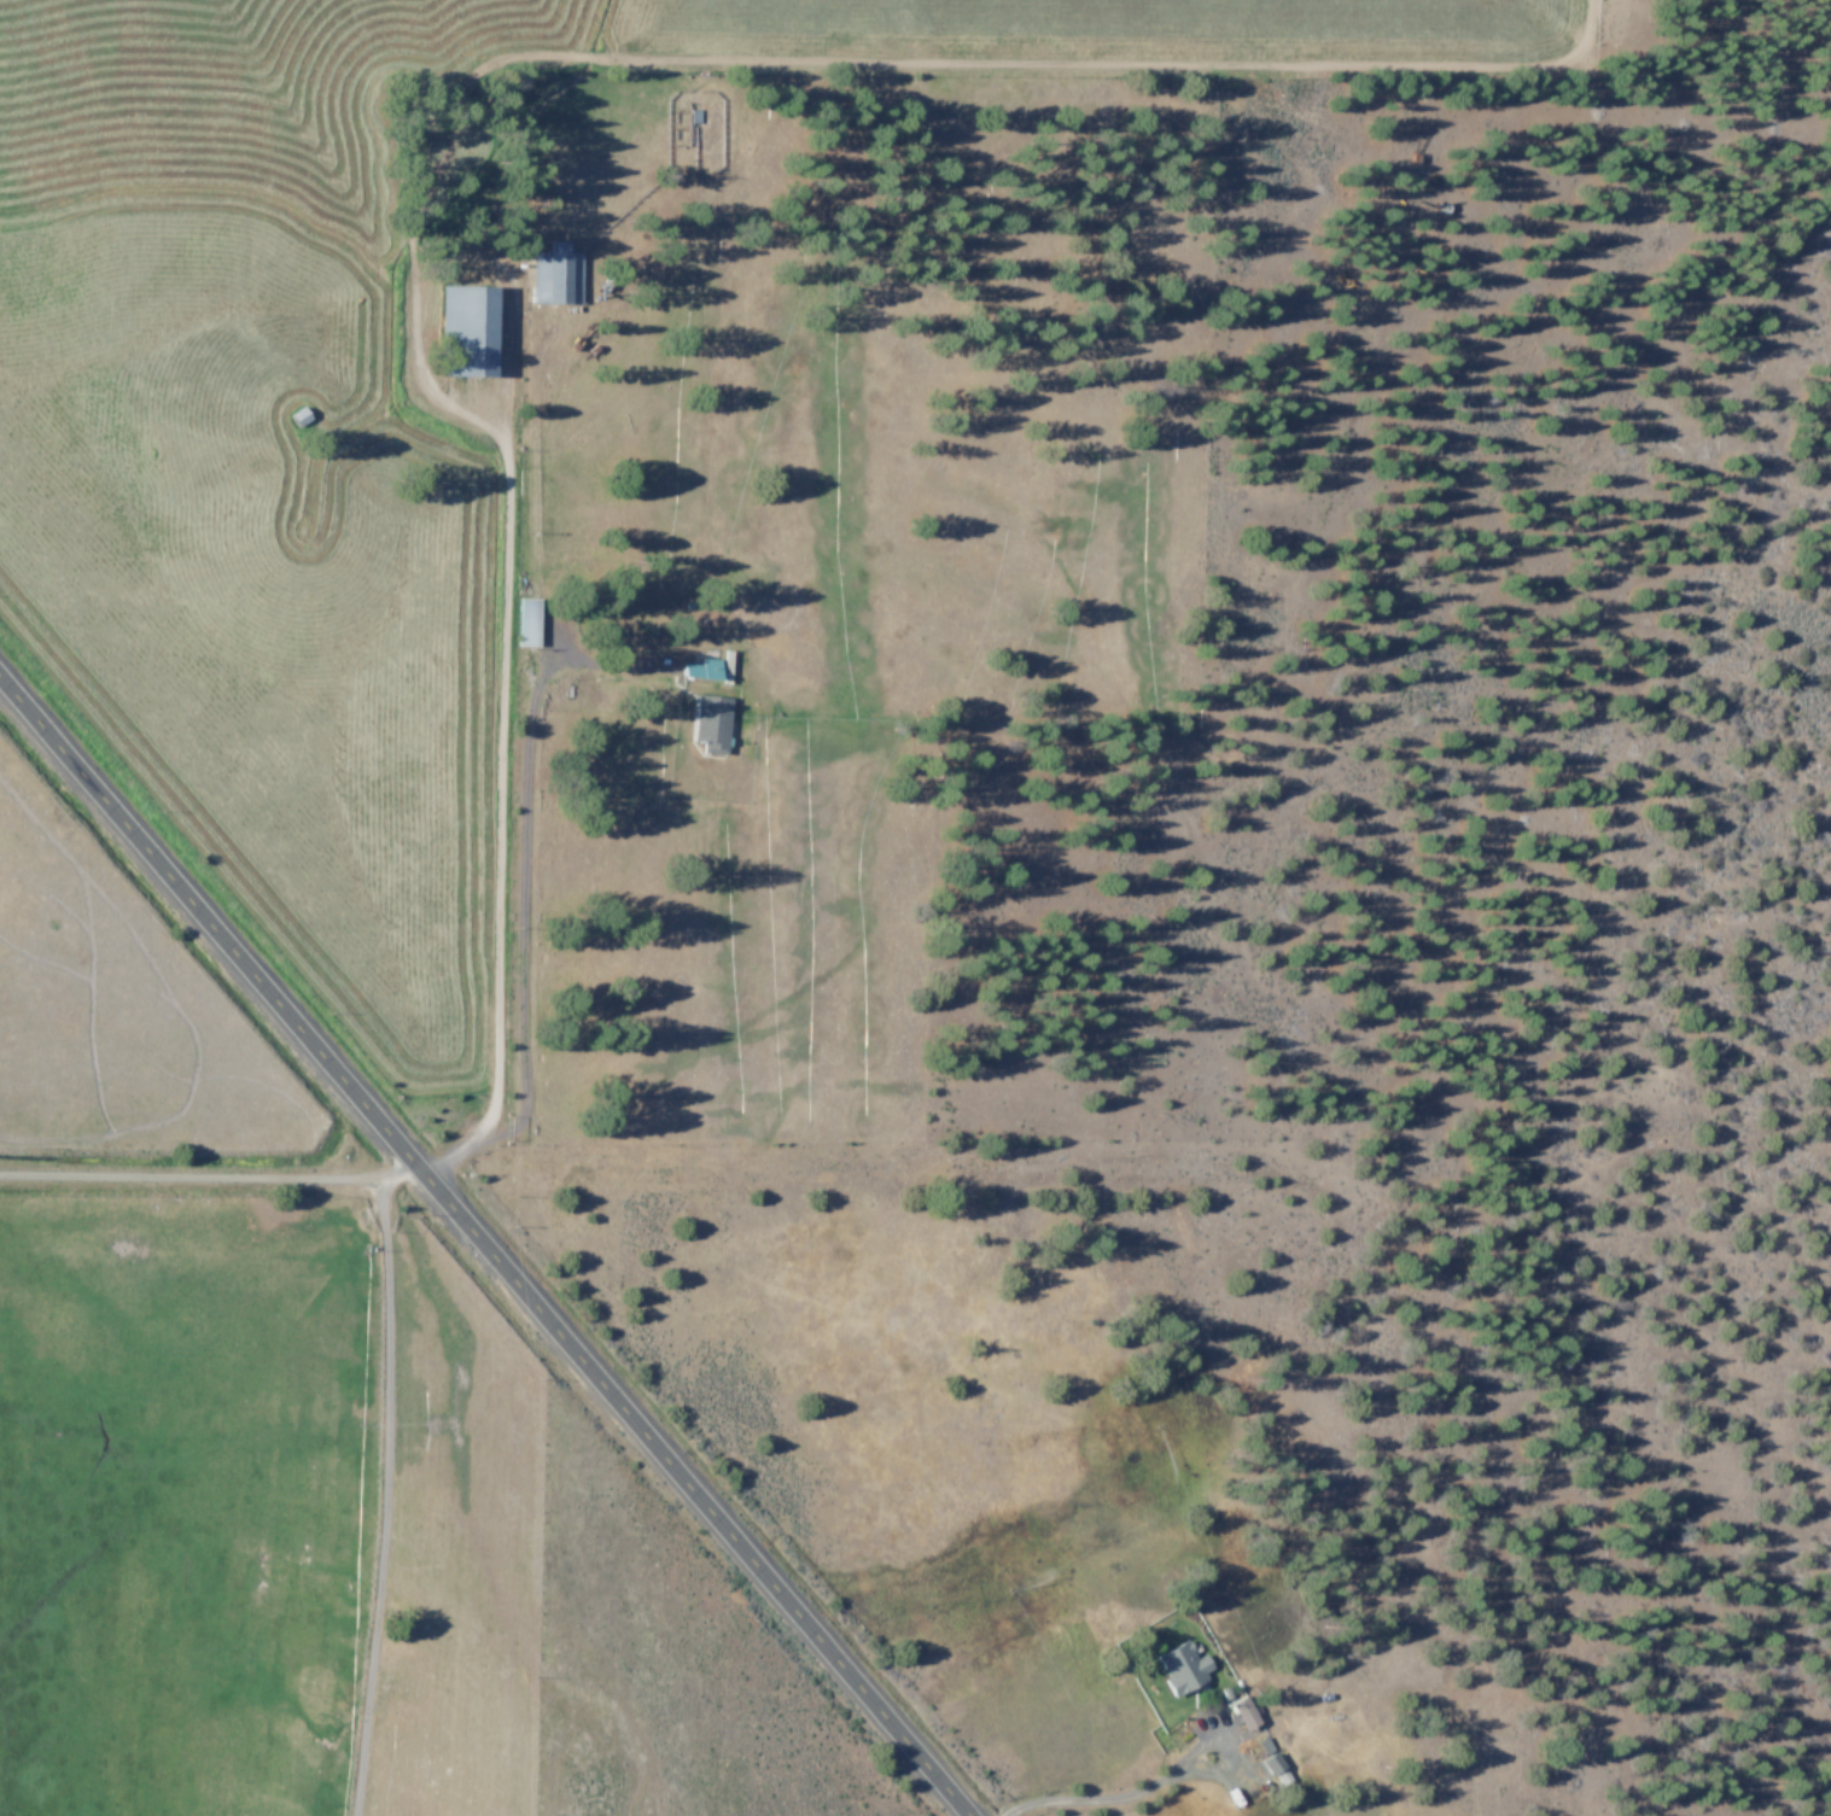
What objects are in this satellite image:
building: (468, 329)
building: (527, 621)
building: (712, 723)
road: (497, 794)
road: (209, 1178)
road: (482, 1249)
building: (1178, 1665)
building: (1238, 1712)
building: (1265, 1756)

